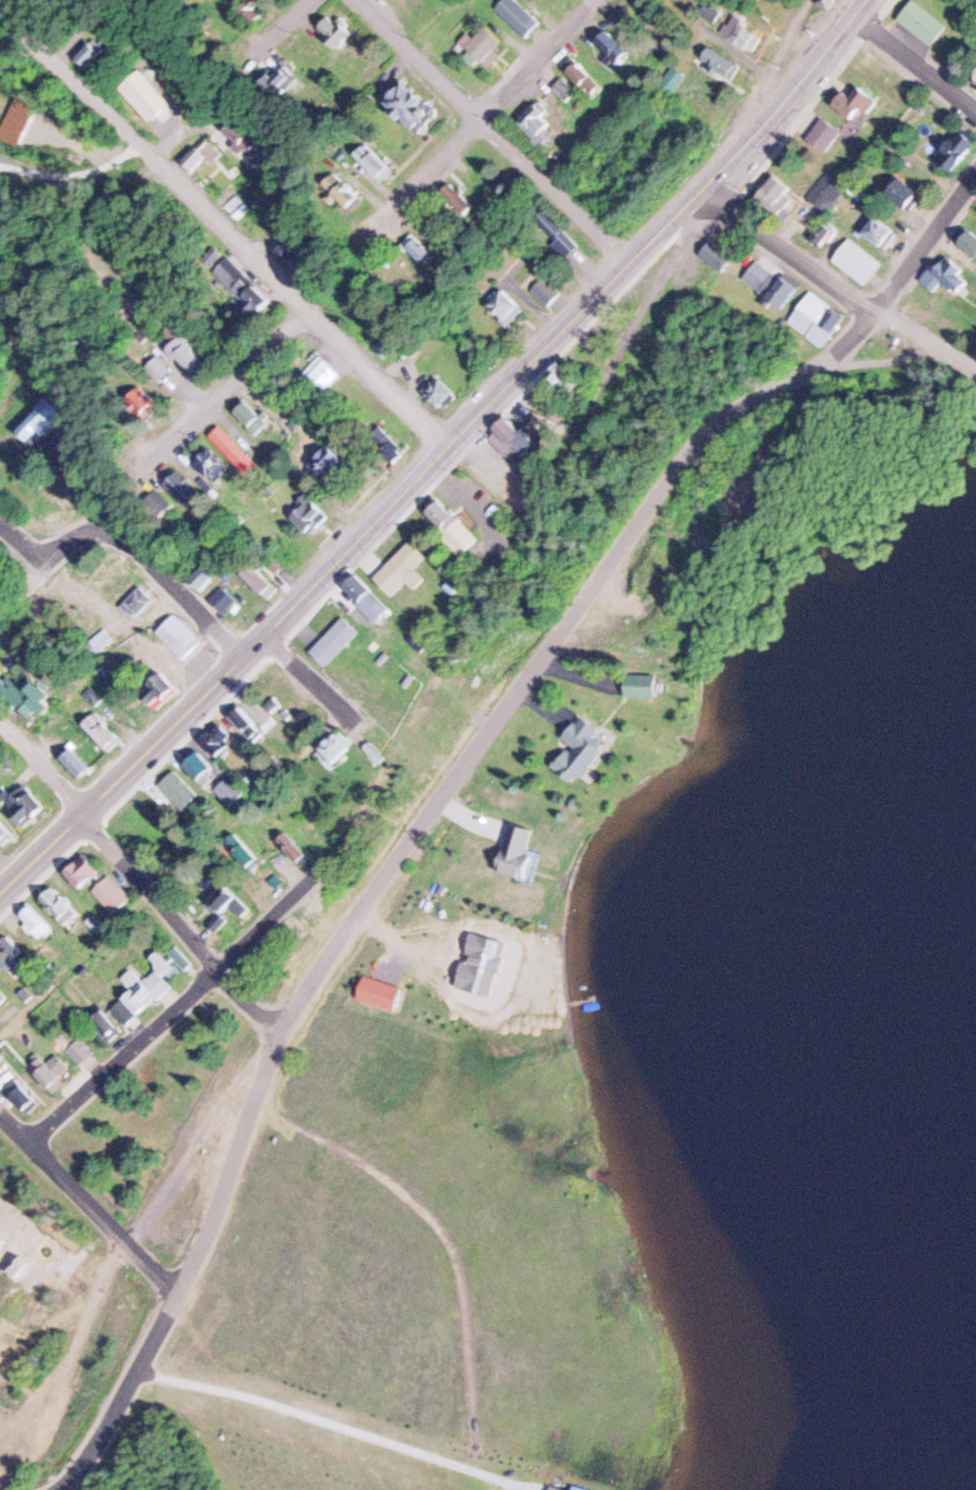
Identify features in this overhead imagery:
building: (825, 2)
building: (247, 11)
building: (710, 11)
building: (519, 15)
building: (921, 21)
road: (285, 23)
building: (333, 32)
building: (741, 33)
building: (482, 43)
building: (613, 48)
road: (915, 59)
building: (718, 63)
building: (581, 78)
building: (974, 78)
building: (278, 79)
building: (671, 80)
building: (563, 88)
building: (138, 98)
building: (851, 103)
building: (410, 104)
building: (537, 119)
road: (499, 130)
building: (824, 134)
building: (240, 139)
building: (958, 148)
road: (449, 151)
building: (198, 154)
building: (372, 162)
building: (341, 191)
building: (829, 191)
building: (900, 191)
building: (776, 196)
building: (456, 199)
road: (227, 223)
building: (880, 230)
building: (824, 231)
building: (558, 235)
road: (925, 237)
building: (969, 241)
building: (417, 248)
building: (716, 255)
building: (860, 261)
building: (949, 276)
road: (836, 279)
building: (771, 280)
building: (237, 285)
building: (546, 290)
building: (504, 306)
building: (819, 318)
road: (559, 332)
building: (184, 352)
building: (152, 373)
building: (312, 373)
building: (564, 379)
building: (435, 391)
building: (144, 402)
road: (210, 408)
building: (250, 414)
building: (37, 423)
building: (525, 433)
building: (238, 447)
building: (218, 461)
building: (338, 461)
road: (492, 474)
building: (188, 488)
building: (445, 514)
building: (305, 515)
road: (56, 545)
building: (407, 561)
building: (204, 572)
building: (259, 579)
road: (175, 586)
building: (368, 595)
building: (217, 598)
building: (131, 600)
building: (172, 636)
building: (92, 638)
building: (334, 639)
building: (632, 685)
building: (157, 687)
building: (88, 695)
building: (32, 700)
building: (243, 721)
building: (275, 726)
building: (99, 731)
building: (213, 742)
building: (328, 749)
building: (569, 751)
building: (73, 764)
building: (200, 766)
road: (121, 773)
building: (229, 789)
building: (178, 790)
building: (16, 800)
building: (4, 830)
road: (111, 840)
road: (396, 848)
building: (238, 851)
building: (288, 851)
building: (509, 855)
road: (48, 868)
building: (83, 870)
building: (109, 895)
building: (219, 903)
building: (58, 906)
building: (34, 919)
building: (211, 921)
building: (10, 952)
building: (137, 988)
building: (372, 996)
building: (1, 998)
road: (187, 1000)
building: (73, 1051)
building: (47, 1071)
building: (18, 1094)
road: (7, 1114)
road: (321, 1423)
building: (548, 1487)

